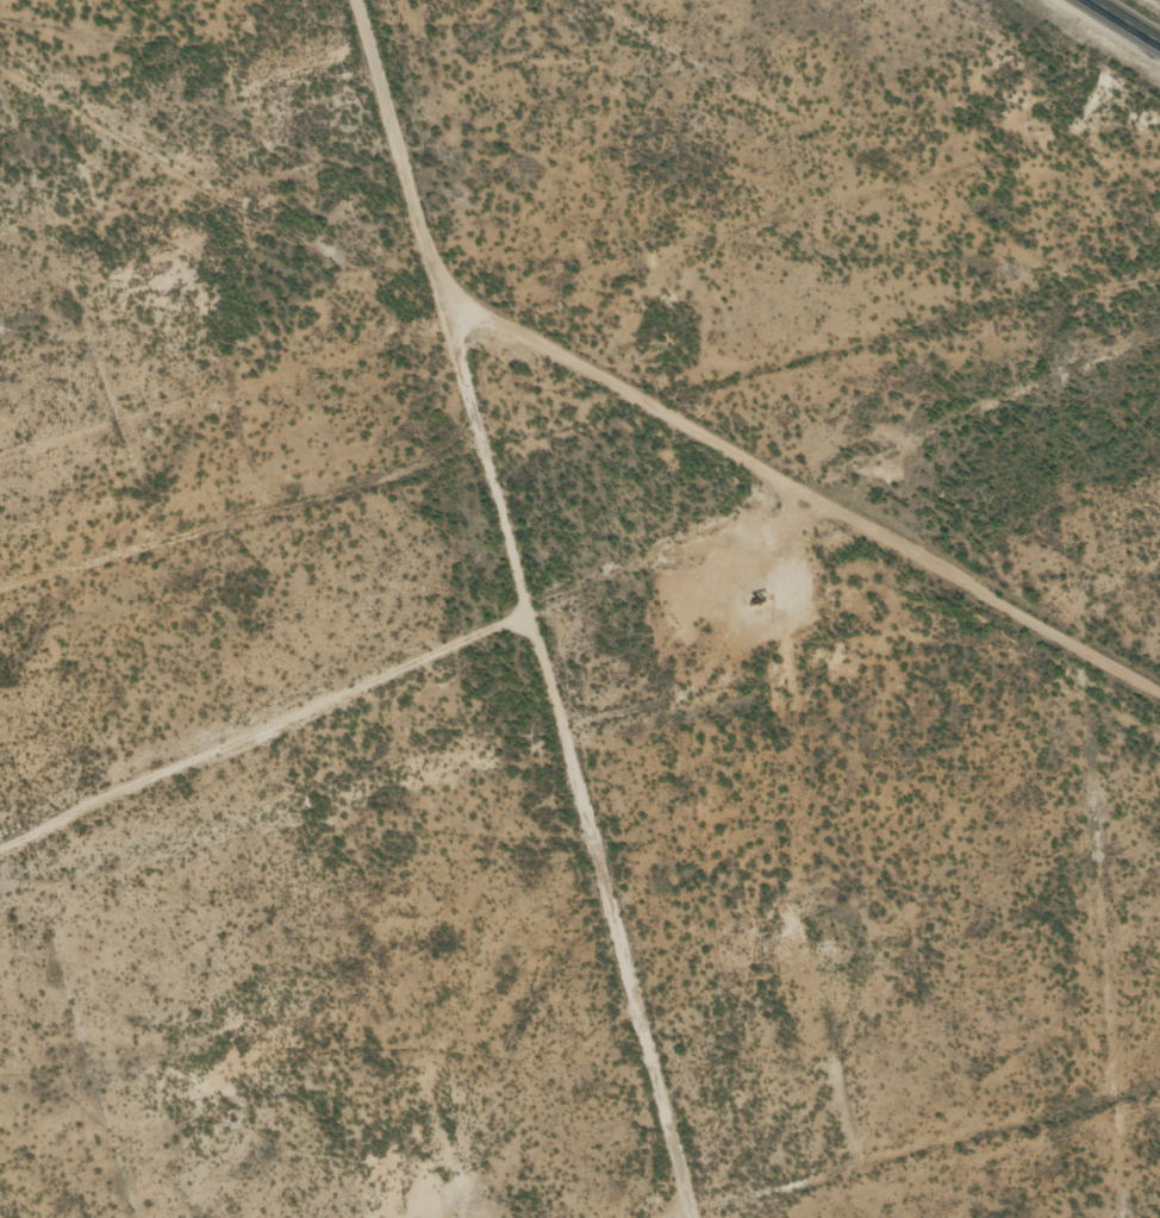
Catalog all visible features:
road: (1127, 20)
road: (666, 430)
road: (582, 766)

